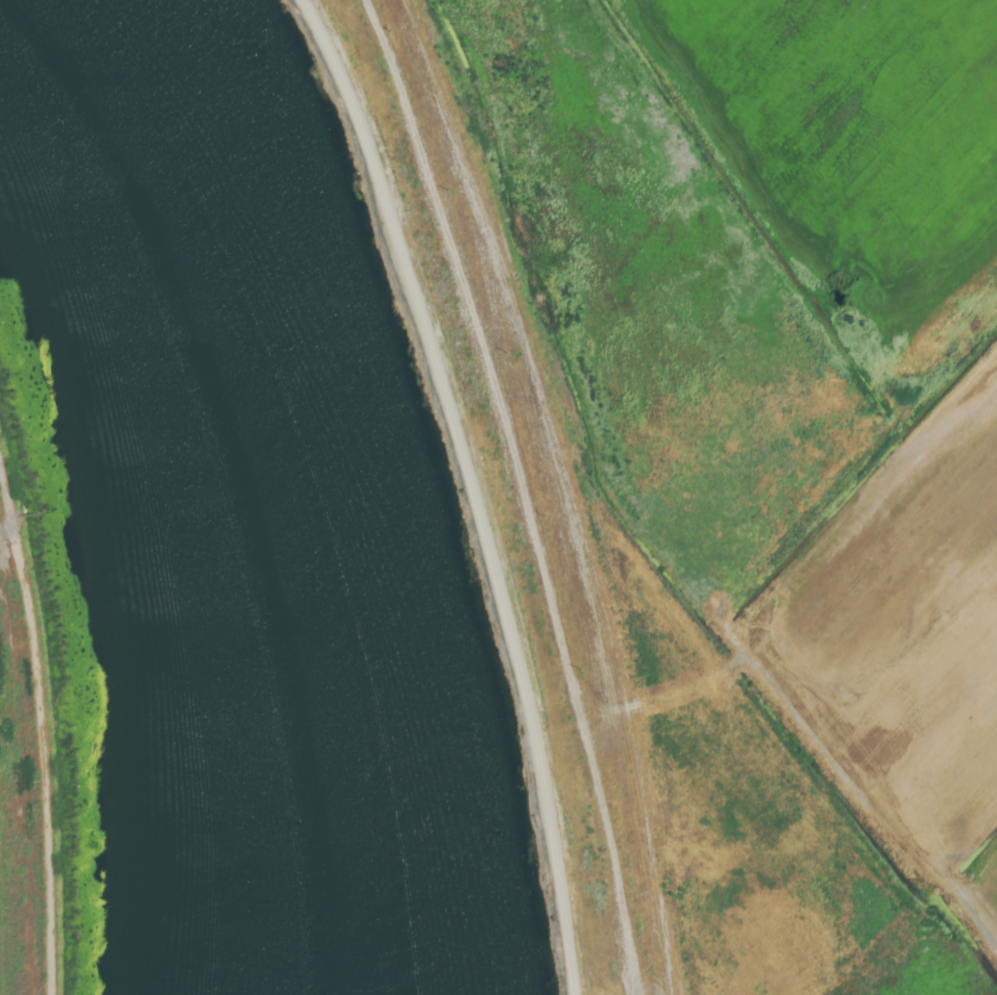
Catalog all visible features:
crop: (770, 446)
river: (217, 479)
road: (475, 488)
crop: (12, 862)

